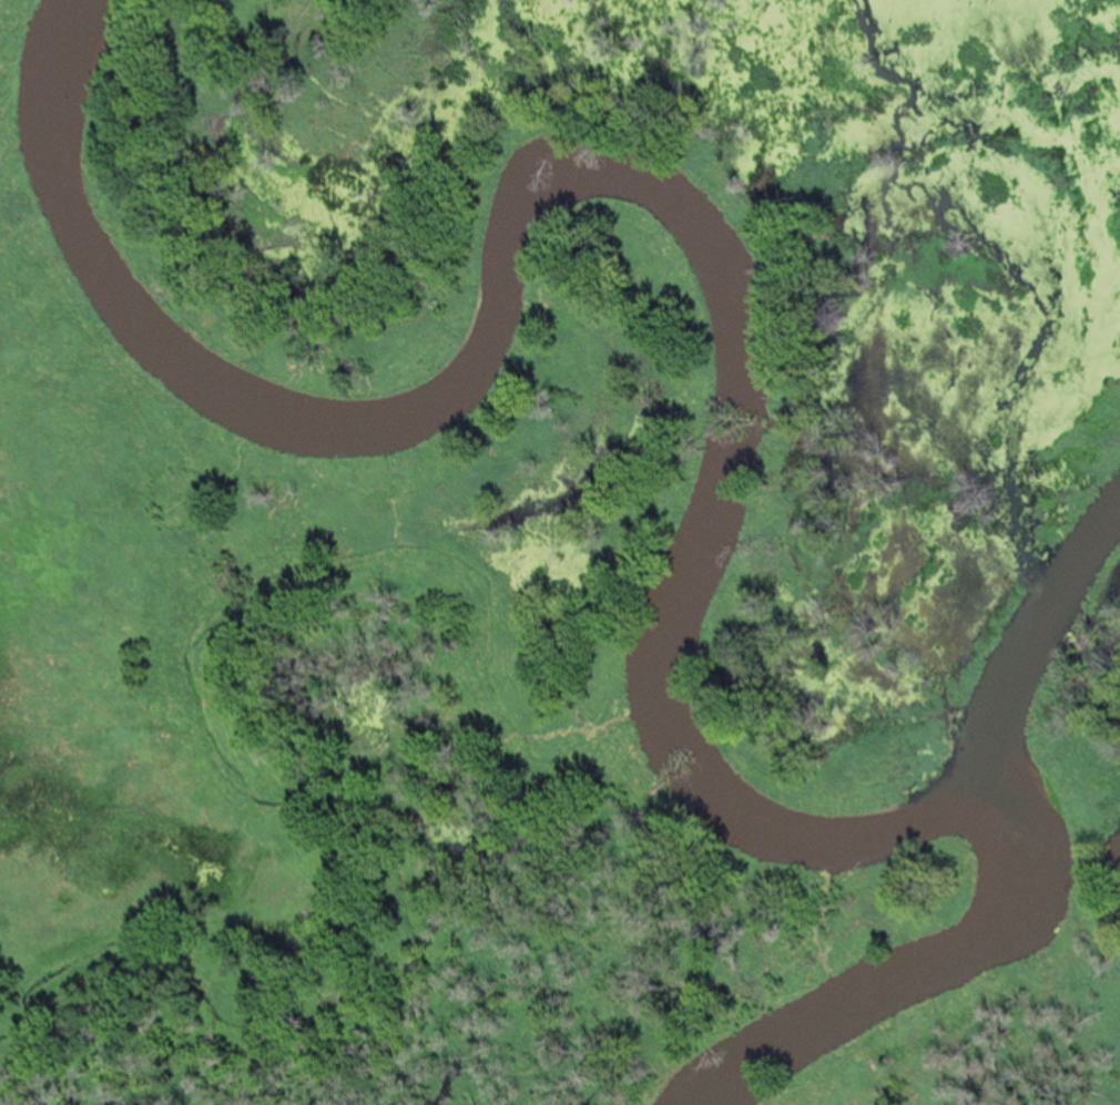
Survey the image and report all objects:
river: (477, 273)
river: (257, 775)

